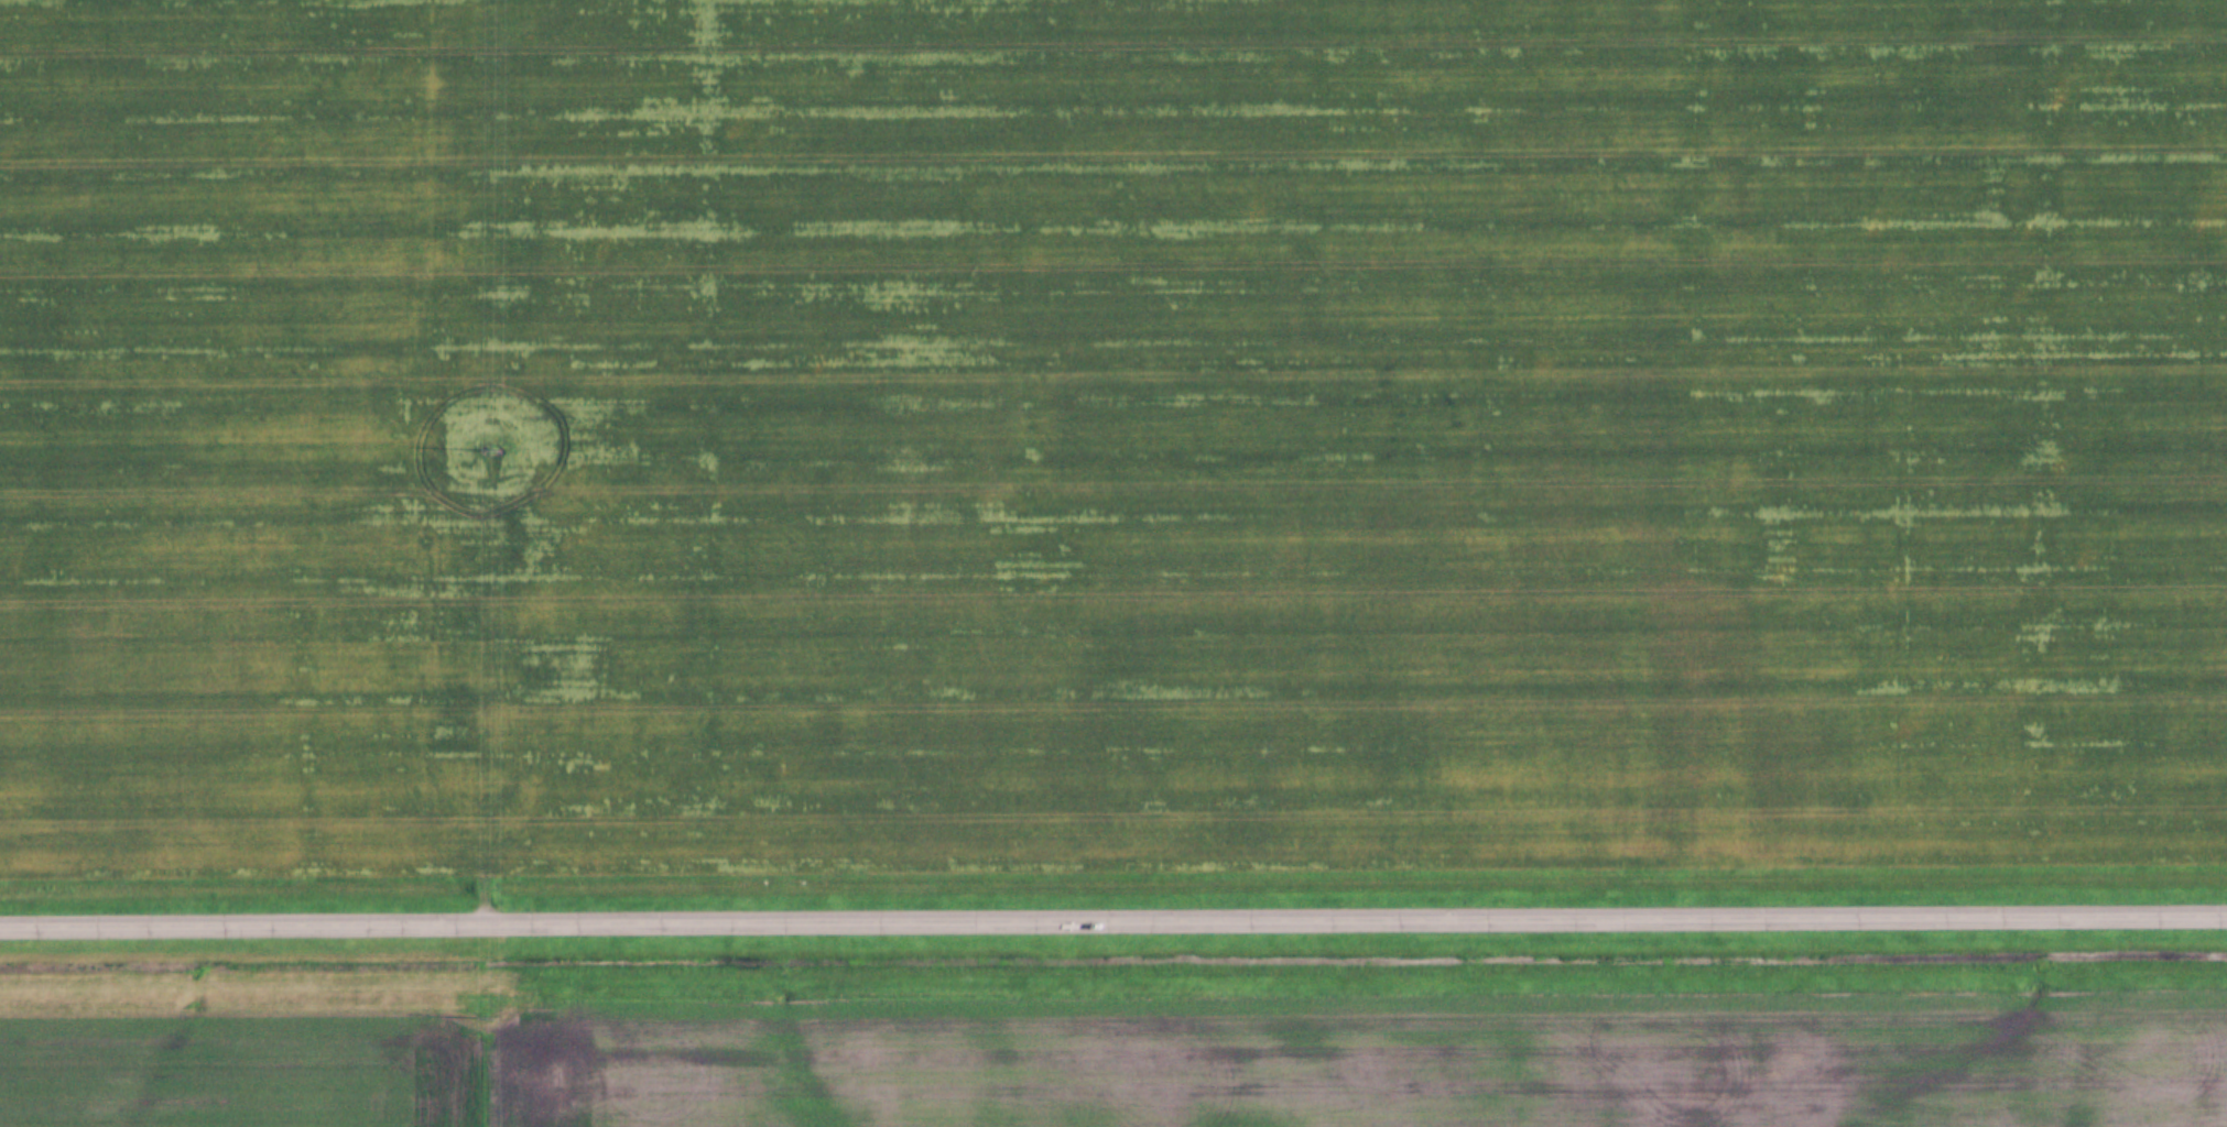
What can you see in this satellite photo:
power tower: (484, 452)
road: (1113, 921)
power tower: (488, 1015)

